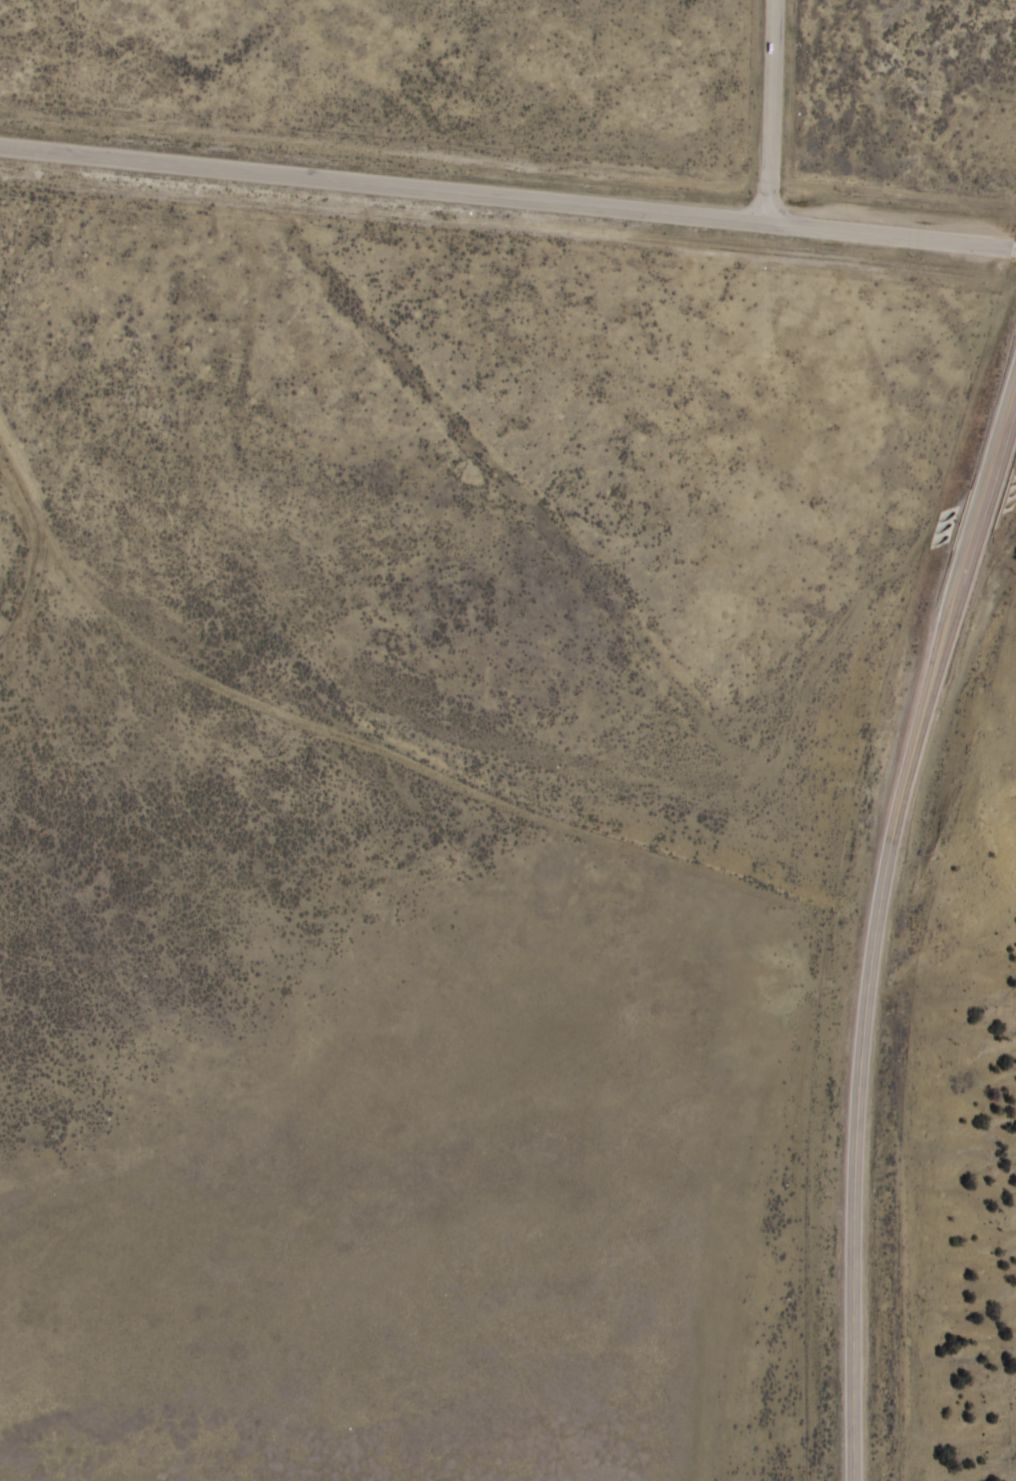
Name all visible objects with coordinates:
road: (771, 111)
road: (508, 197)
road: (878, 926)

